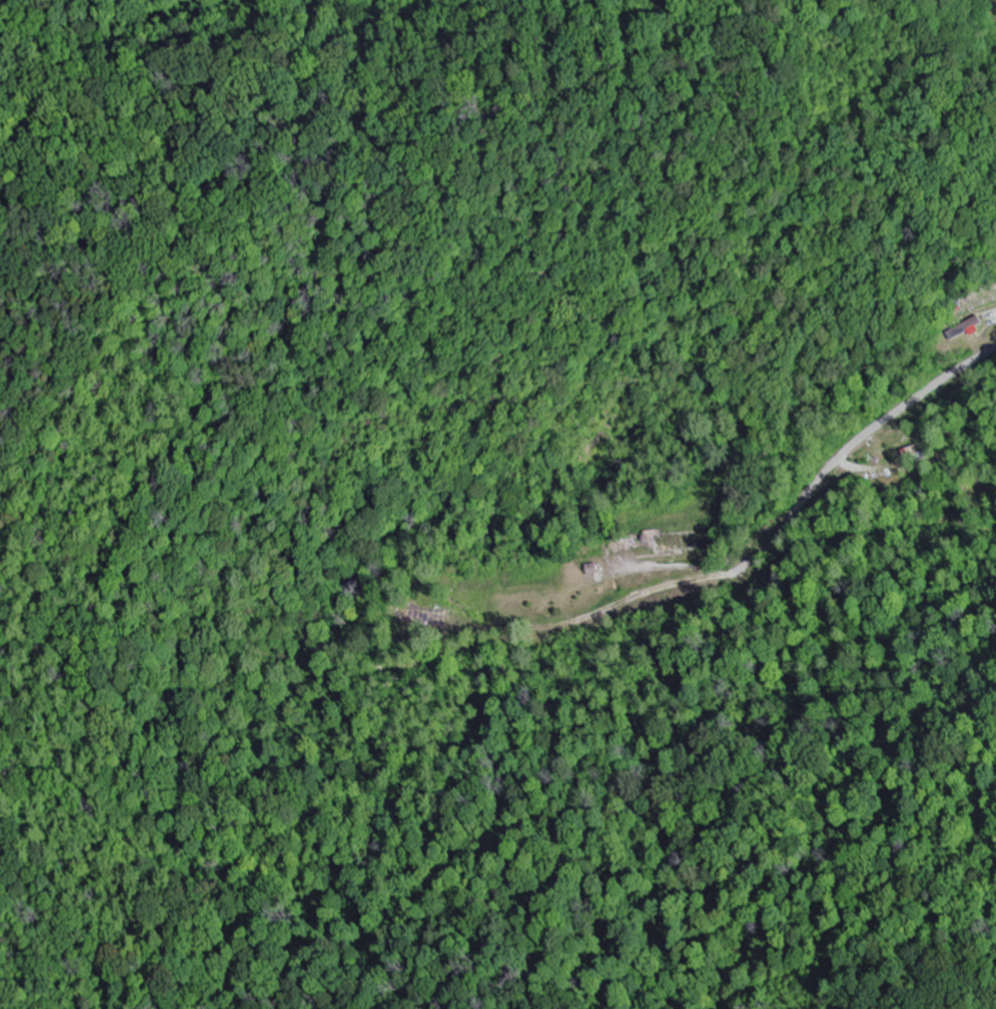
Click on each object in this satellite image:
road: (860, 442)

